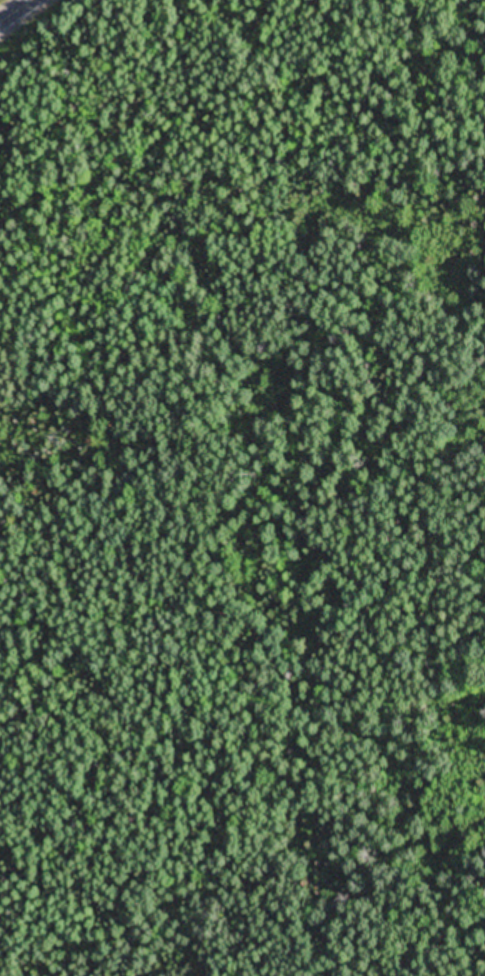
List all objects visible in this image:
road: (18, 12)

